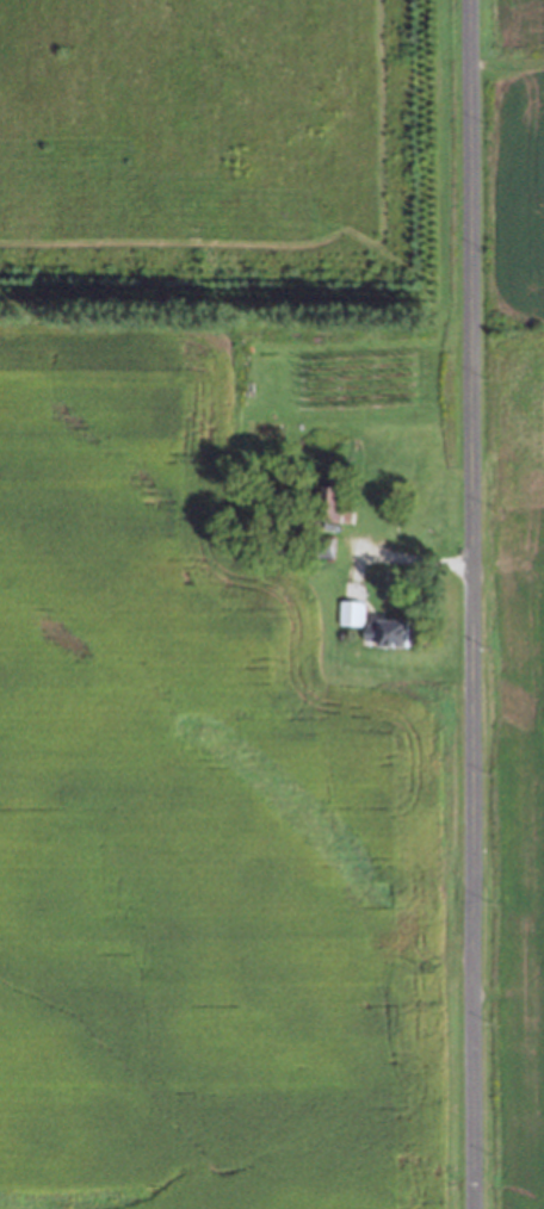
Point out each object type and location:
building: (334, 503)
road: (475, 603)
building: (373, 626)

